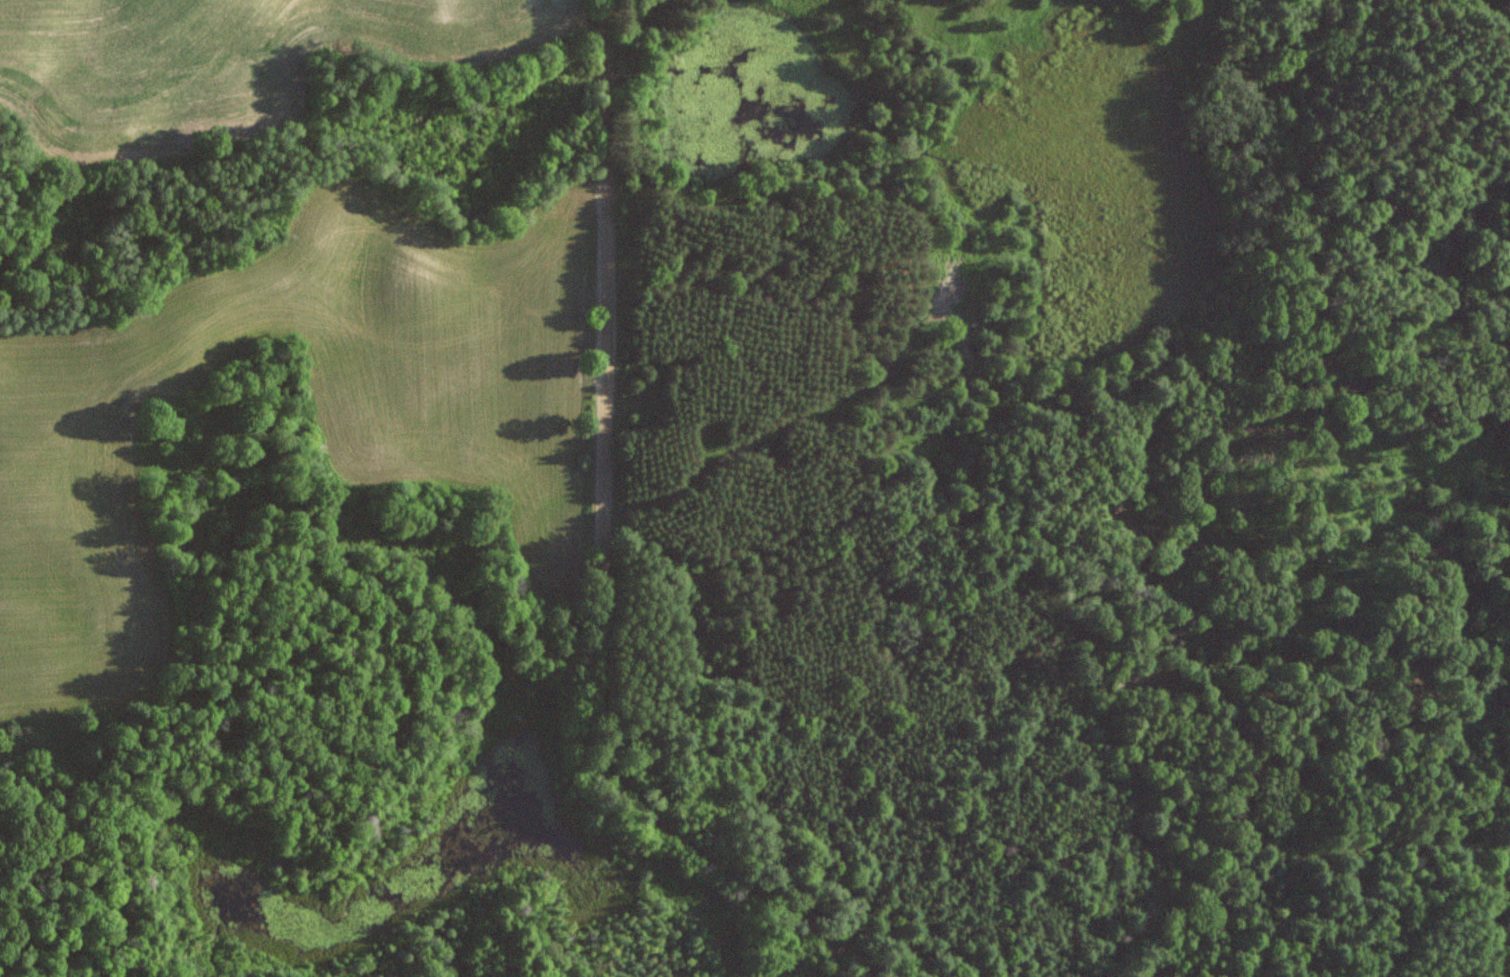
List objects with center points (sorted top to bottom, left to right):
road: (602, 563)

